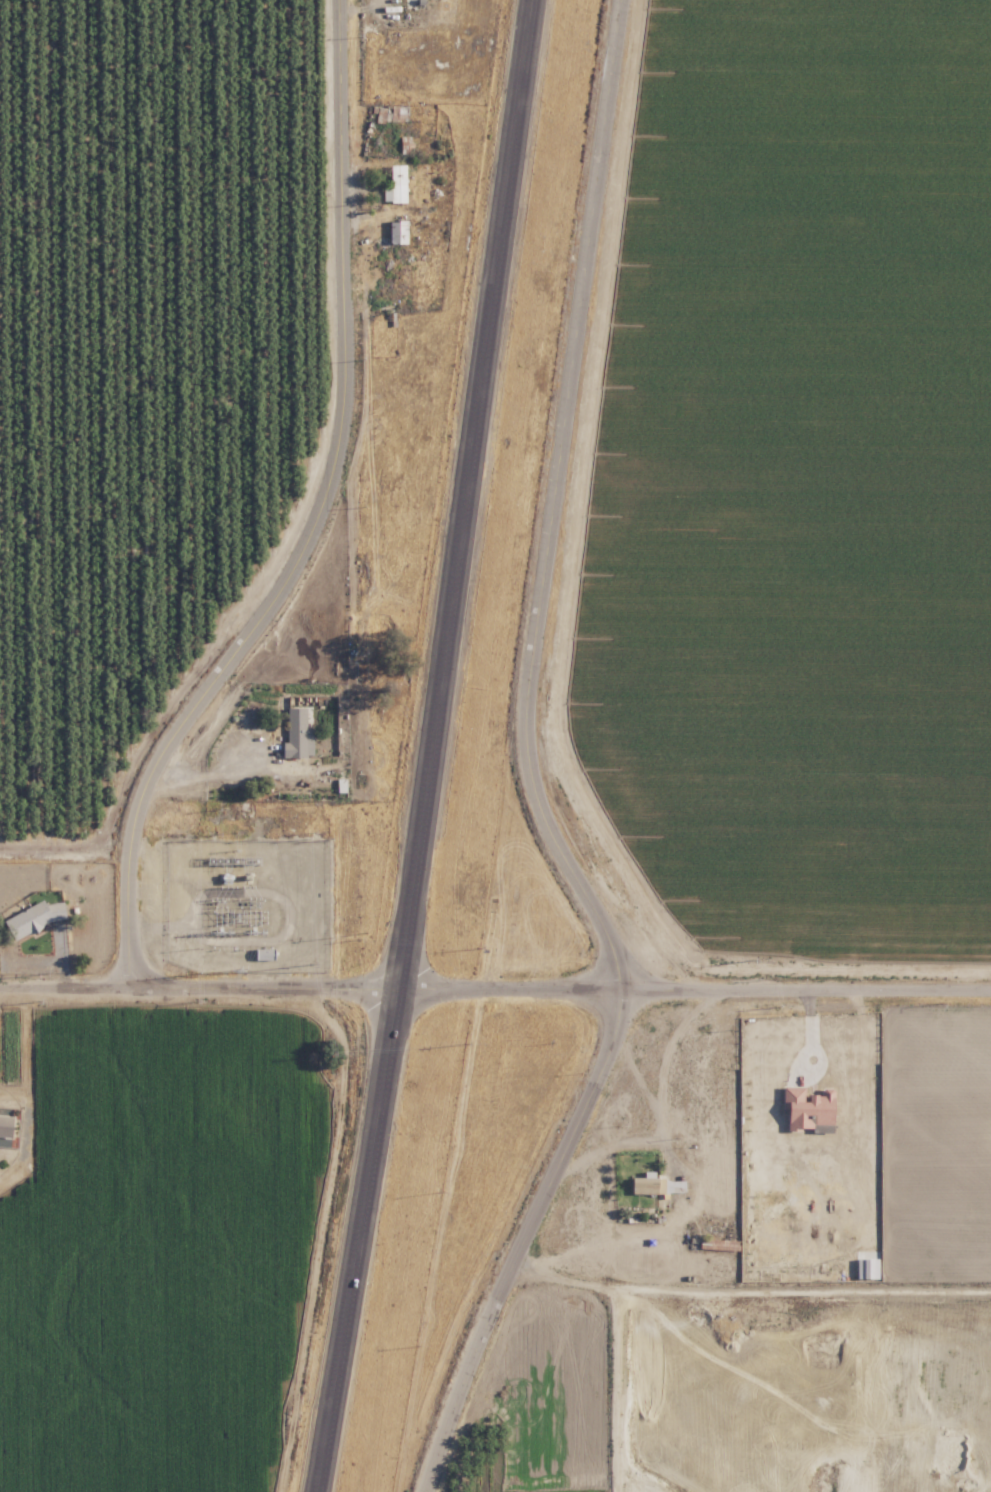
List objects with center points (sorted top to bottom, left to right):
building: (411, 4)
crop: (833, 100)
building: (392, 185)
building: (393, 232)
road: (315, 512)
crop: (723, 590)
crop: (905, 596)
building: (294, 734)
road: (427, 746)
road: (526, 767)
road: (205, 778)
building: (30, 918)
road: (563, 978)
road: (68, 982)
road: (632, 1071)
building: (803, 1108)
building: (4, 1125)
road: (605, 1149)
road: (679, 1167)
crop: (172, 1248)

